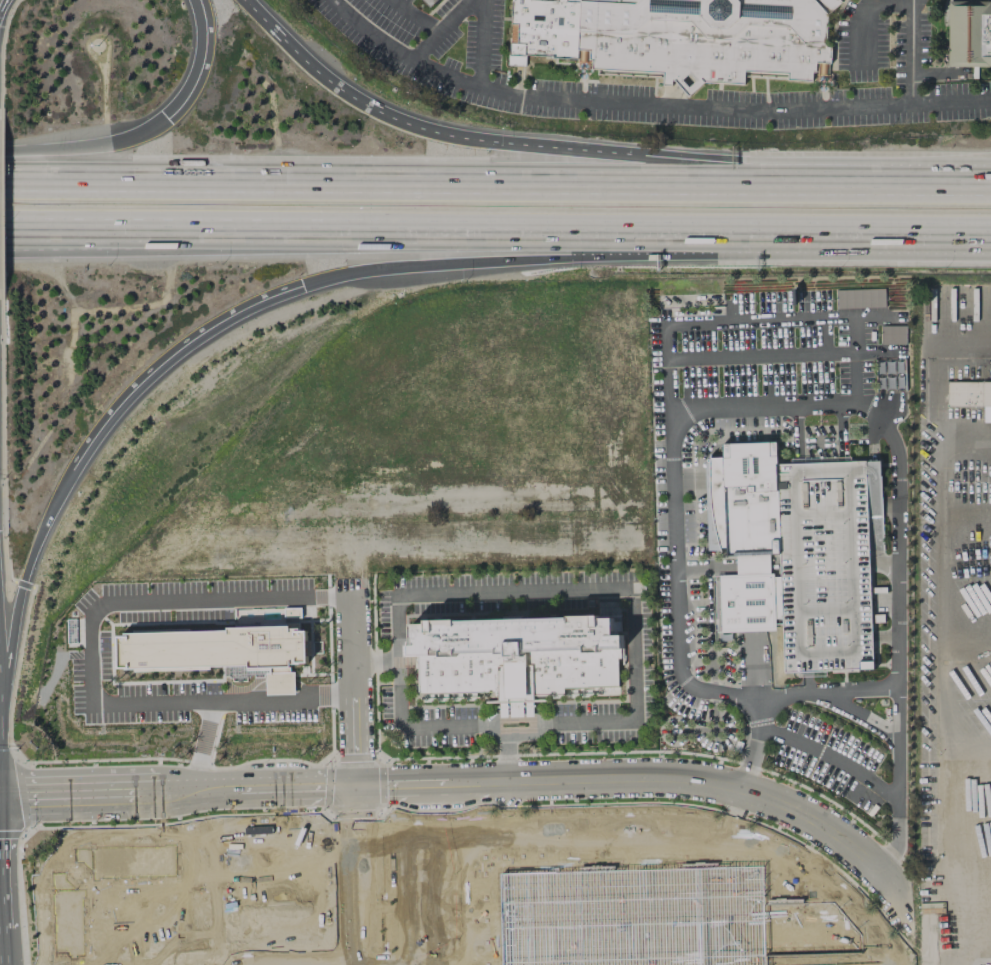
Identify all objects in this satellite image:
building: (429, 3)
road: (862, 8)
road: (416, 14)
road: (266, 20)
road: (439, 29)
building: (543, 29)
building: (969, 34)
building: (706, 40)
road: (482, 44)
road: (911, 52)
road: (191, 65)
road: (648, 105)
road: (76, 145)
road: (578, 149)
road: (449, 179)
road: (945, 183)
road: (167, 236)
road: (662, 237)
road: (81, 243)
road: (572, 257)
traffic signals: (304, 286)
road: (174, 361)
building: (890, 375)
building: (968, 394)
road: (776, 408)
building: (746, 533)
building: (824, 567)
parking garage: (824, 567)
road: (27, 581)
road: (613, 588)
road: (940, 598)
building: (292, 612)
building: (214, 650)
road: (91, 655)
building: (515, 656)
road: (758, 669)
road: (353, 684)
road: (828, 691)
road: (425, 727)
road: (836, 762)
road: (628, 781)
road: (176, 790)
road: (352, 795)
traffic signals: (15, 798)
road: (550, 831)
road: (359, 852)
road: (343, 874)
road: (207, 876)
road: (430, 876)
road: (822, 878)
road: (398, 887)
road: (965, 893)
building: (644, 911)
road: (431, 919)
road: (361, 923)
road: (940, 929)
road: (114, 936)
road: (354, 951)
road: (431, 958)
road: (282, 962)
road: (63, 964)
road: (72, 964)
road: (82, 964)
road: (101, 964)

